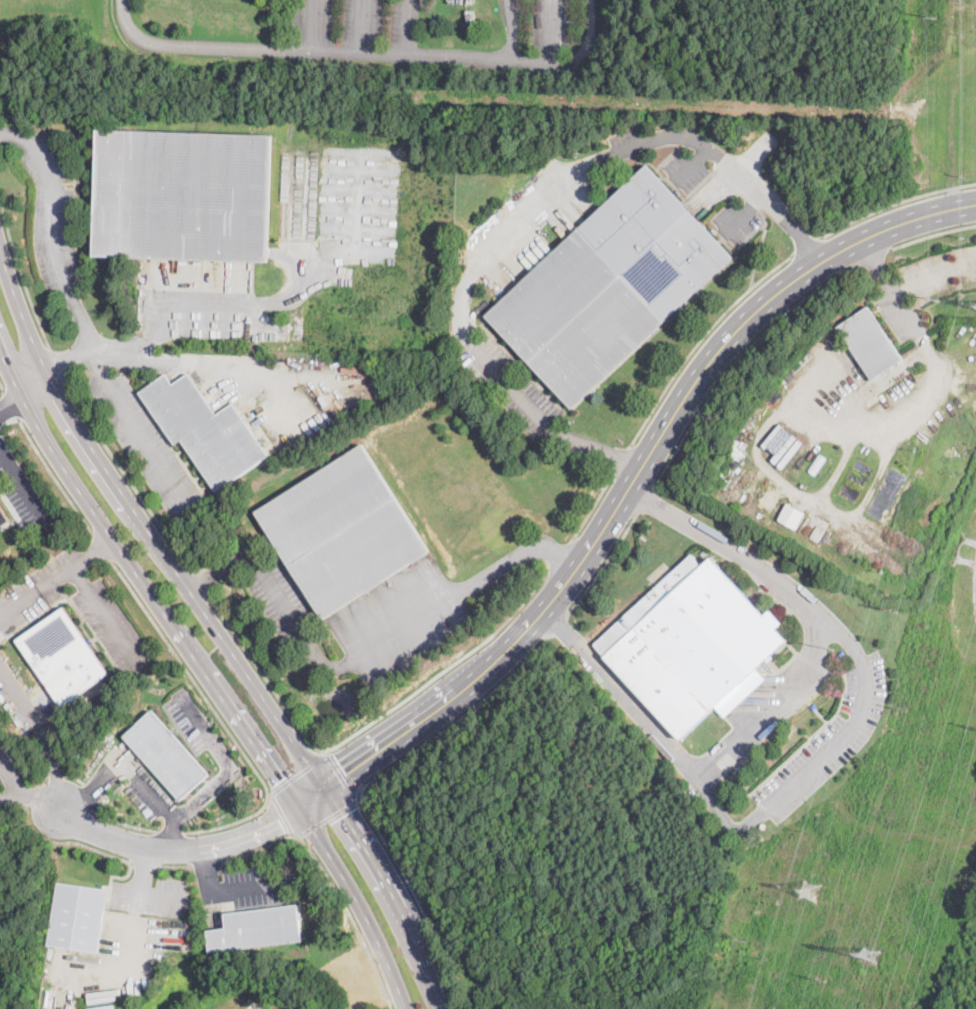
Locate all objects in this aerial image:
power tower: (936, 17)
road: (325, 49)
road: (16, 134)
building: (183, 195)
road: (894, 202)
parking lot: (52, 212)
road: (52, 214)
road: (529, 216)
road: (931, 233)
road: (804, 245)
road: (758, 248)
road: (873, 256)
road: (19, 273)
power tower: (936, 297)
road: (162, 302)
building: (575, 319)
road: (699, 340)
building: (833, 341)
building: (870, 343)
road: (737, 357)
road: (162, 358)
building: (330, 362)
road: (56, 363)
building: (789, 376)
road: (934, 378)
road: (1, 387)
road: (23, 394)
road: (9, 402)
road: (118, 403)
building: (204, 429)
building: (779, 440)
parking lot: (146, 445)
road: (621, 457)
building: (816, 463)
road: (53, 475)
road: (126, 476)
road: (21, 481)
parking lot: (21, 490)
road: (646, 499)
road: (592, 504)
building: (792, 515)
building: (3, 516)
building: (342, 531)
road: (101, 546)
road: (91, 552)
road: (559, 555)
road: (602, 563)
road: (80, 578)
road: (198, 581)
parking lot: (37, 588)
road: (556, 590)
power tower: (892, 608)
parking lot: (111, 624)
road: (557, 624)
road: (217, 633)
building: (692, 644)
power tower: (832, 649)
building: (62, 657)
road: (367, 659)
road: (190, 676)
road: (207, 678)
road: (781, 704)
power tower: (901, 708)
road: (455, 721)
road: (362, 727)
road: (44, 733)
parking lot: (829, 740)
road: (325, 750)
building: (165, 755)
road: (817, 759)
road: (227, 766)
road: (133, 773)
road: (297, 773)
road: (341, 775)
traffic signals: (346, 776)
road: (11, 777)
traffic signals: (277, 781)
road: (9, 795)
road: (41, 798)
road: (280, 812)
traffic signals: (341, 816)
road: (328, 817)
traffic signals: (277, 820)
road: (142, 867)
road: (330, 883)
parking lot: (242, 887)
power tower: (808, 889)
road: (148, 891)
road: (224, 892)
parking lot: (151, 895)
road: (416, 898)
building: (78, 916)
building: (257, 928)
power tower: (743, 940)
power tower: (868, 953)
power tower: (821, 976)

